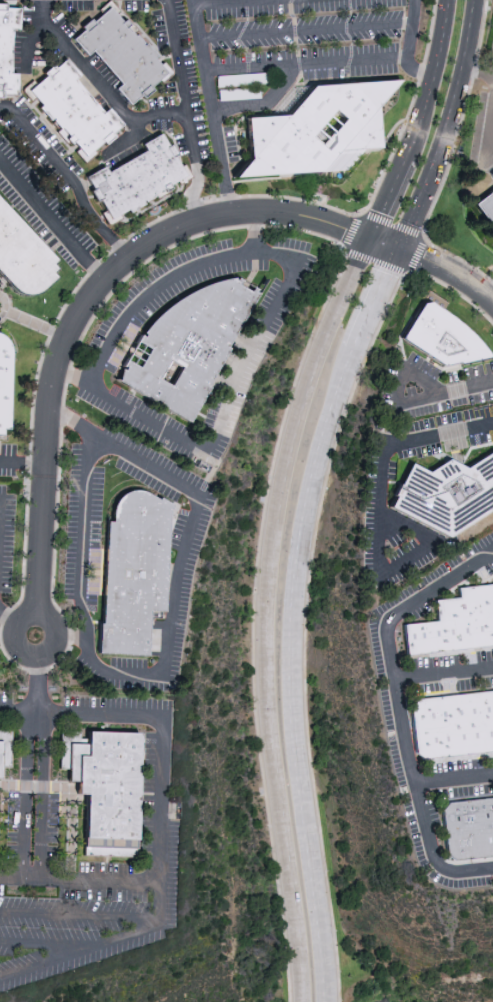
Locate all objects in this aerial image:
road: (217, 1)
road: (306, 30)
road: (27, 46)
road: (409, 47)
building: (7, 49)
building: (122, 55)
road: (307, 63)
road: (476, 70)
road: (184, 81)
road: (97, 84)
road: (265, 104)
road: (213, 108)
building: (73, 111)
road: (160, 115)
road: (445, 127)
building: (316, 129)
road: (488, 140)
road: (40, 146)
road: (448, 161)
building: (137, 180)
road: (193, 193)
building: (486, 209)
road: (51, 221)
road: (100, 226)
road: (254, 233)
road: (384, 244)
building: (23, 255)
road: (447, 271)
road: (490, 296)
road: (373, 298)
road: (88, 301)
road: (2, 306)
road: (34, 324)
building: (446, 336)
building: (191, 344)
road: (76, 376)
building: (4, 382)
road: (465, 386)
road: (396, 390)
road: (73, 422)
road: (162, 432)
road: (403, 443)
road: (22, 464)
road: (187, 488)
road: (287, 488)
building: (449, 493)
road: (0, 506)
road: (408, 560)
building: (137, 571)
road: (33, 610)
road: (7, 617)
building: (455, 625)
road: (73, 637)
road: (292, 673)
road: (445, 675)
road: (35, 687)
road: (402, 710)
building: (453, 725)
building: (6, 750)
road: (454, 779)
building: (108, 788)
road: (24, 795)
road: (43, 795)
road: (162, 824)
building: (468, 829)
road: (80, 880)
road: (80, 914)
road: (55, 944)

